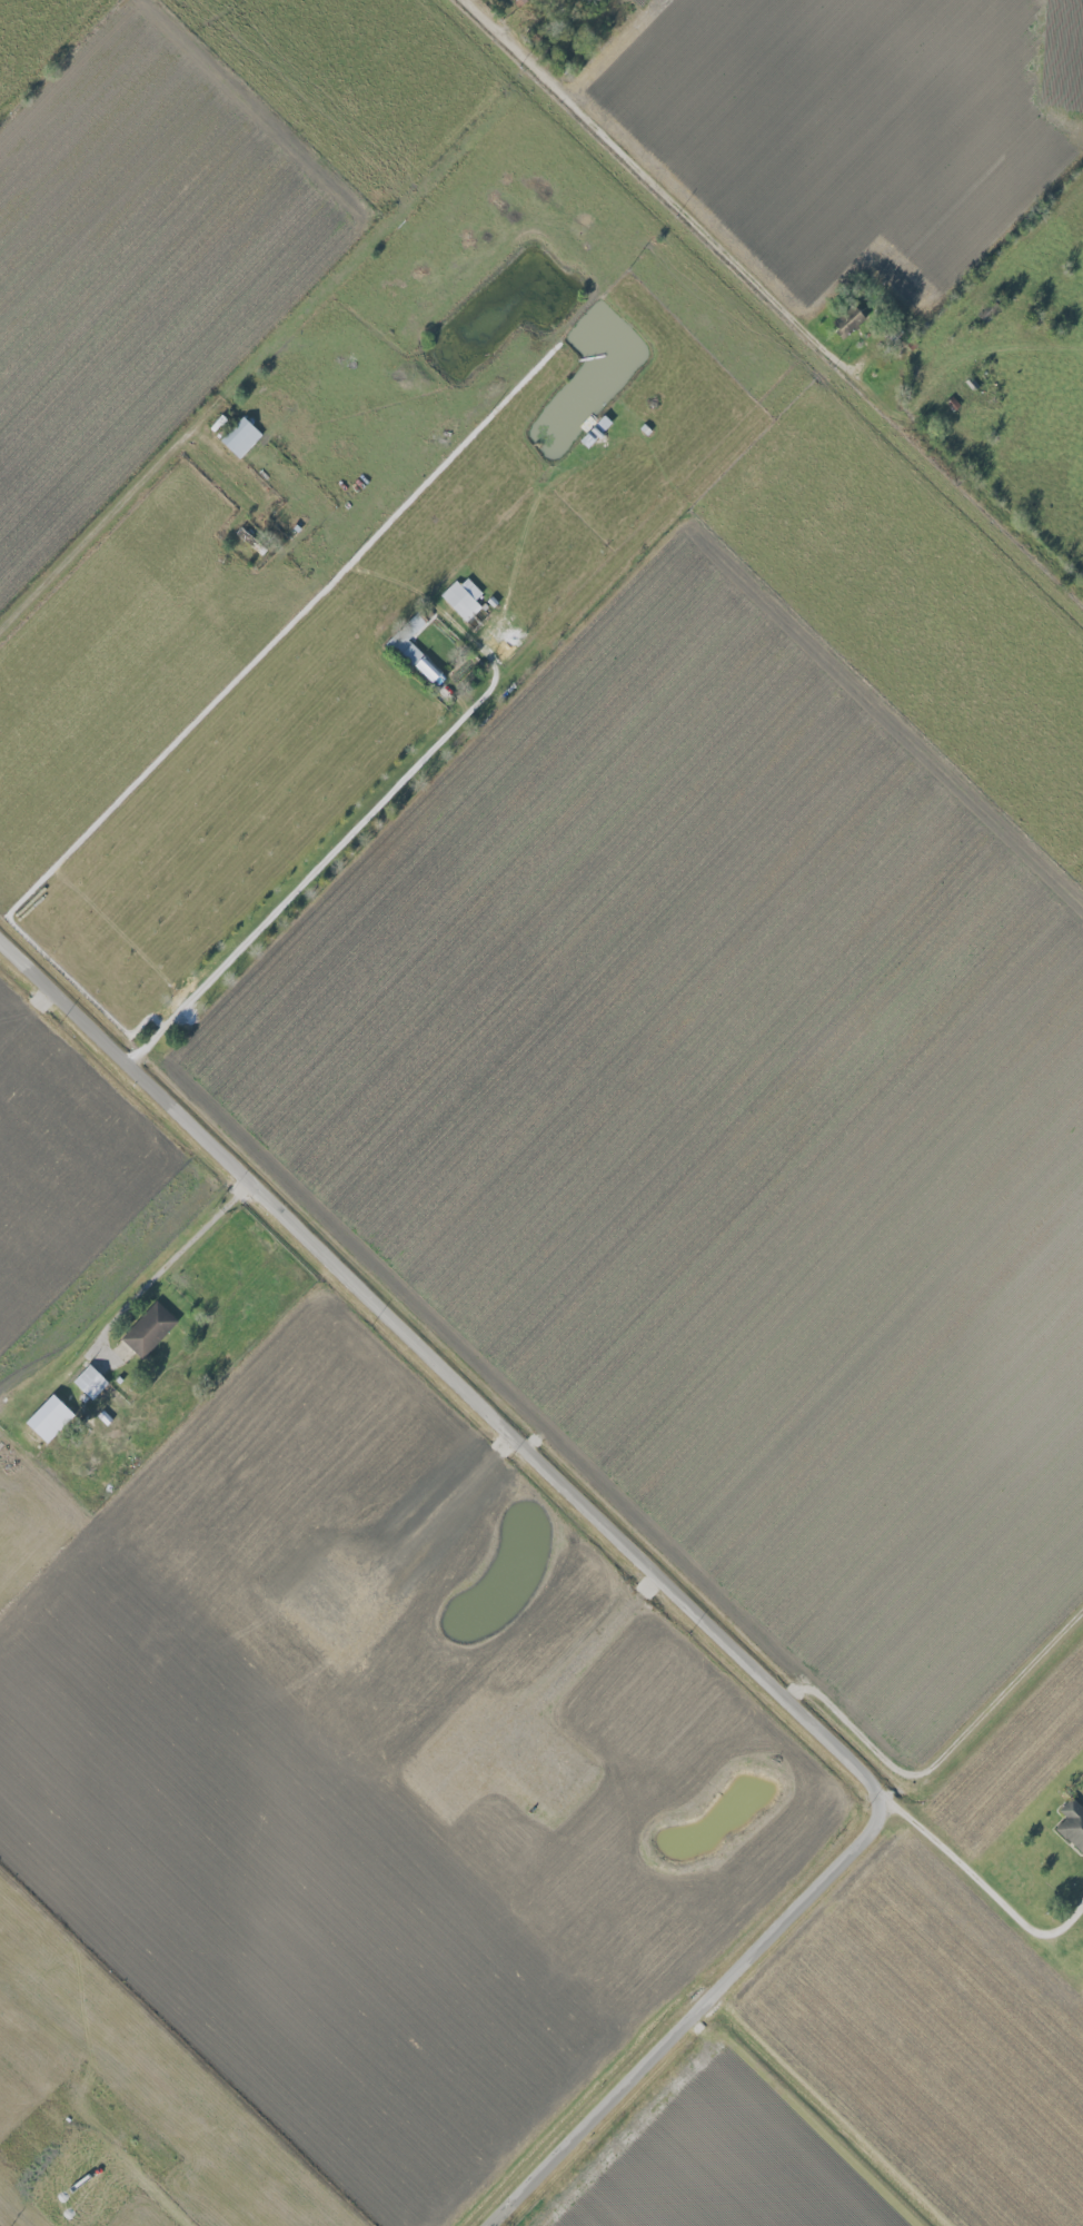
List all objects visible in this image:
road: (768, 303)
building: (848, 320)
building: (596, 431)
building: (240, 437)
road: (90, 536)
building: (463, 597)
building: (413, 650)
road: (340, 847)
road: (167, 1260)
building: (149, 1329)
building: (90, 1382)
road: (475, 1396)
building: (49, 1418)
road: (942, 1755)
road: (988, 1887)
road: (667, 2042)

